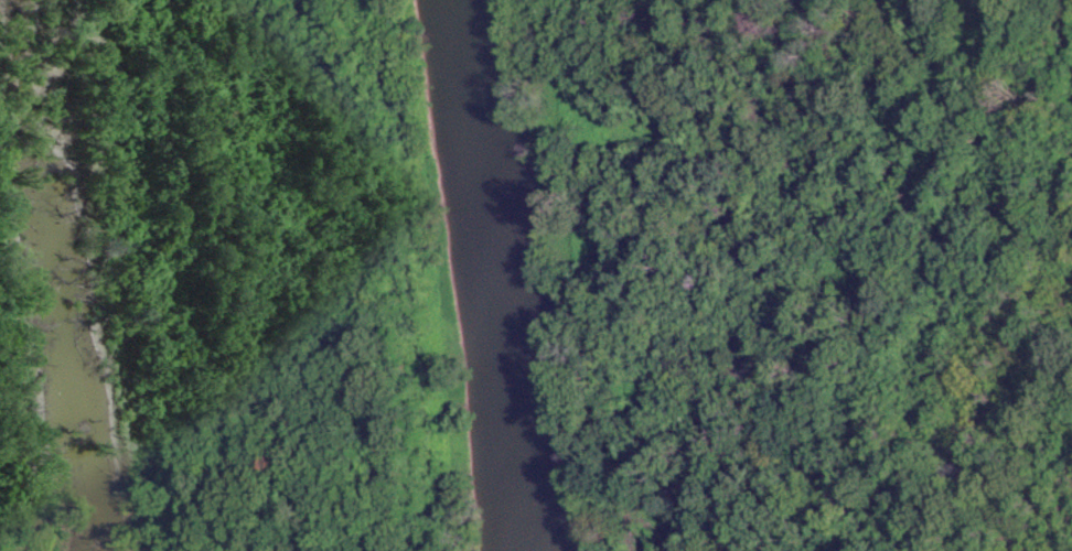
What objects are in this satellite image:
road: (988, 7)

